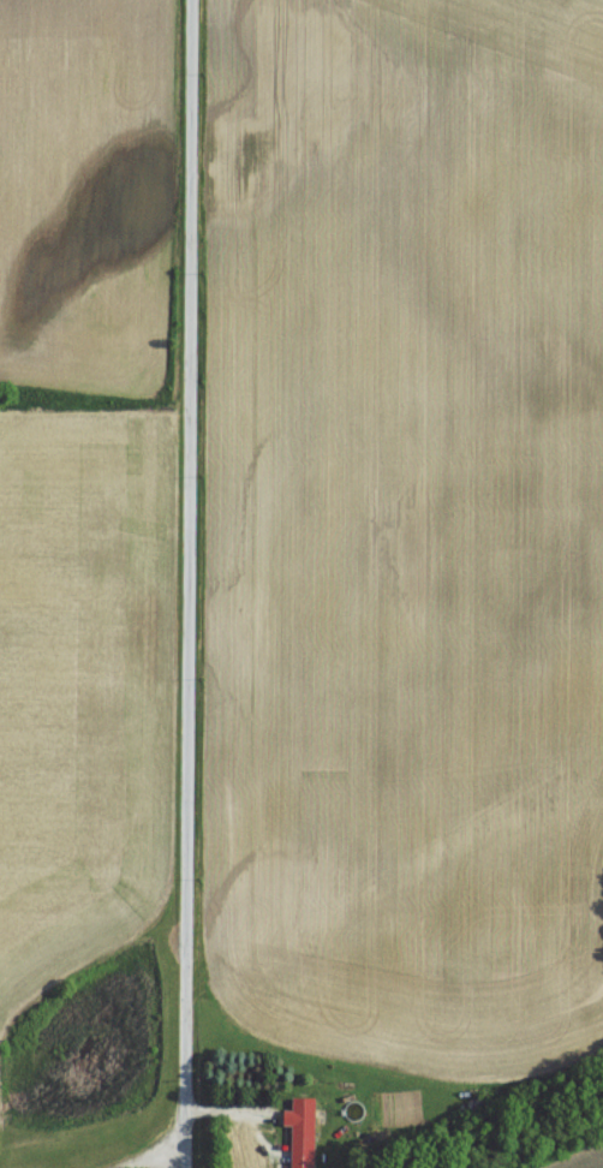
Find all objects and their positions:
road: (187, 584)
building: (298, 1132)

